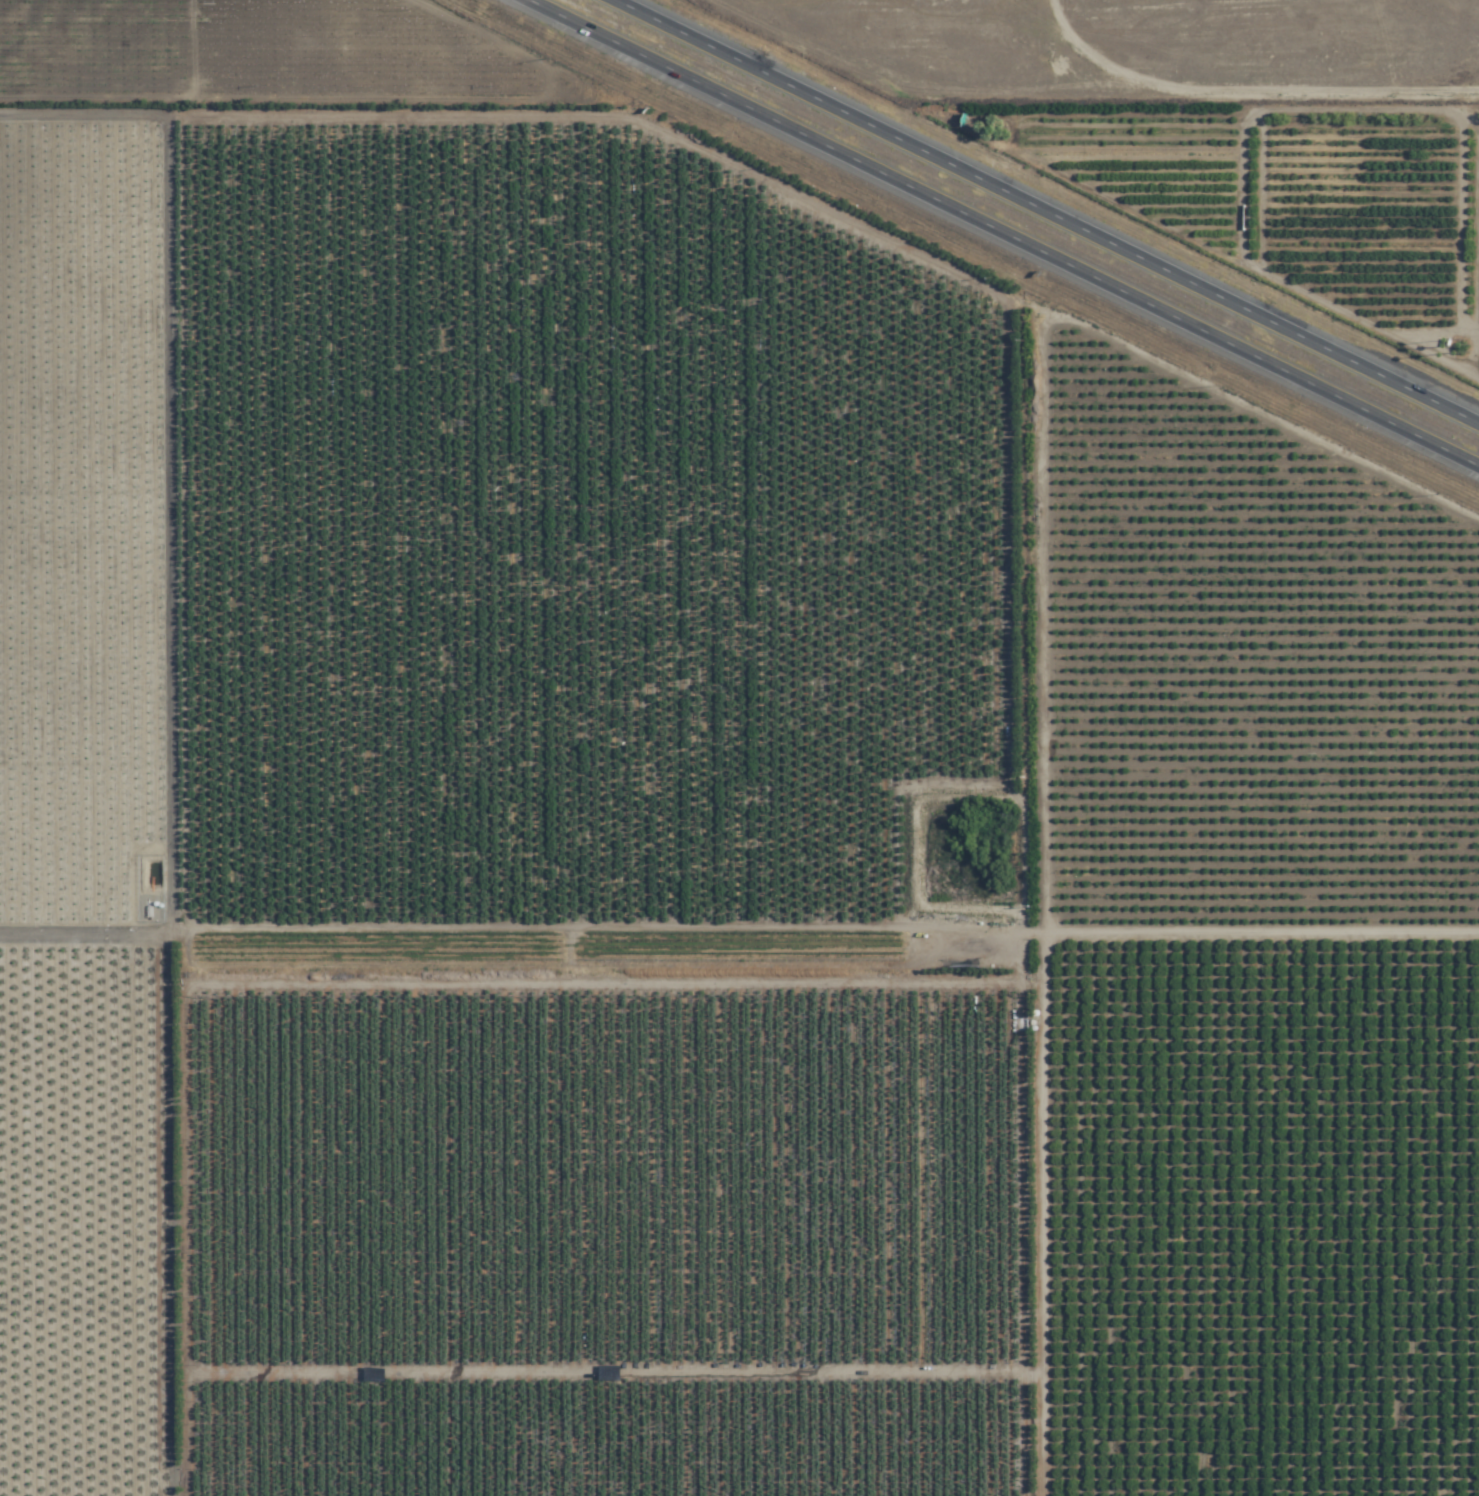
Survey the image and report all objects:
road: (1039, 215)
road: (987, 242)
road: (1026, 394)
crop: (738, 805)
wastewater plant: (972, 851)

